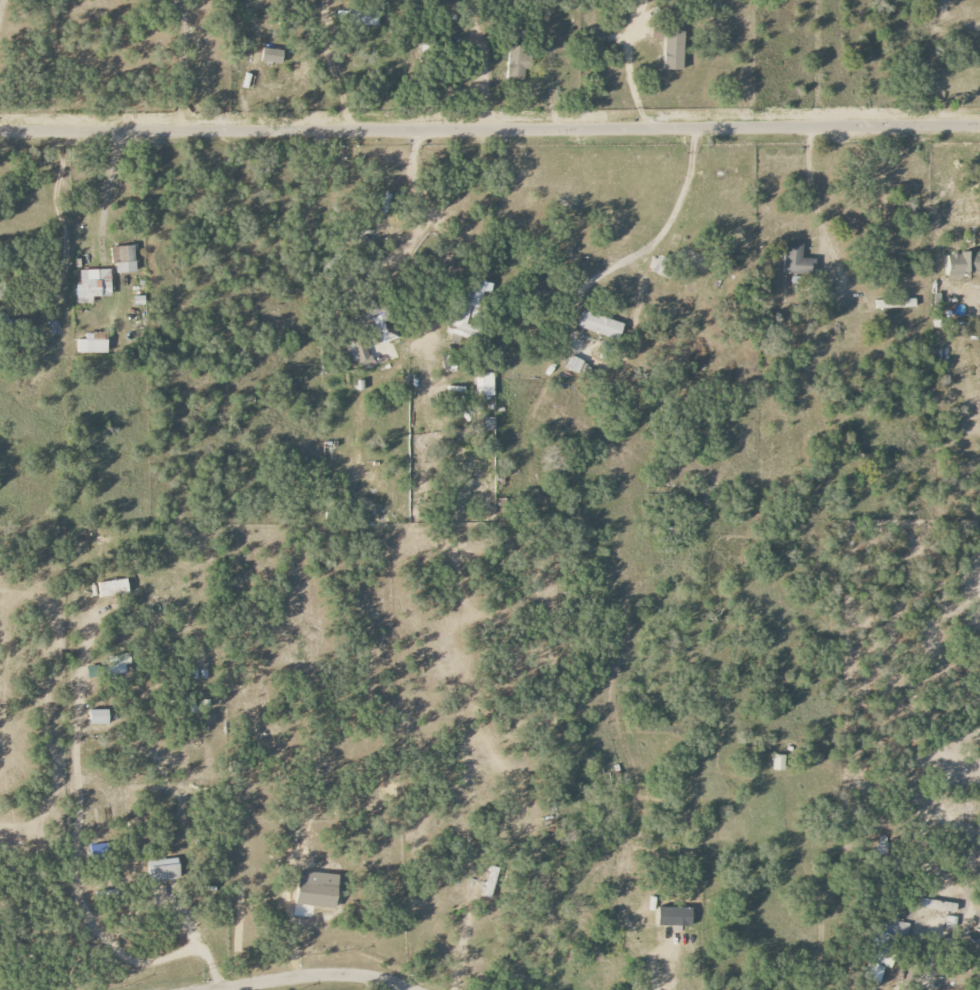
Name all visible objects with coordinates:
road: (1, 6)
building: (356, 18)
road: (955, 20)
road: (479, 23)
building: (674, 51)
building: (272, 56)
building: (518, 62)
road: (810, 62)
road: (183, 65)
road: (629, 65)
road: (336, 75)
road: (483, 88)
road: (490, 129)
road: (108, 184)
road: (417, 193)
road: (58, 202)
road: (814, 202)
road: (665, 223)
building: (123, 259)
building: (697, 259)
building: (795, 260)
building: (963, 262)
building: (663, 266)
building: (93, 285)
building: (895, 303)
building: (464, 311)
building: (378, 317)
building: (600, 325)
building: (93, 343)
building: (360, 352)
building: (489, 424)
building: (113, 588)
building: (111, 666)
building: (99, 717)
building: (778, 762)
road: (84, 846)
building: (163, 870)
building: (490, 882)
building: (317, 894)
building: (937, 905)
building: (674, 916)
road: (178, 922)
building: (884, 949)
road: (665, 959)
road: (318, 975)
road: (366, 983)

